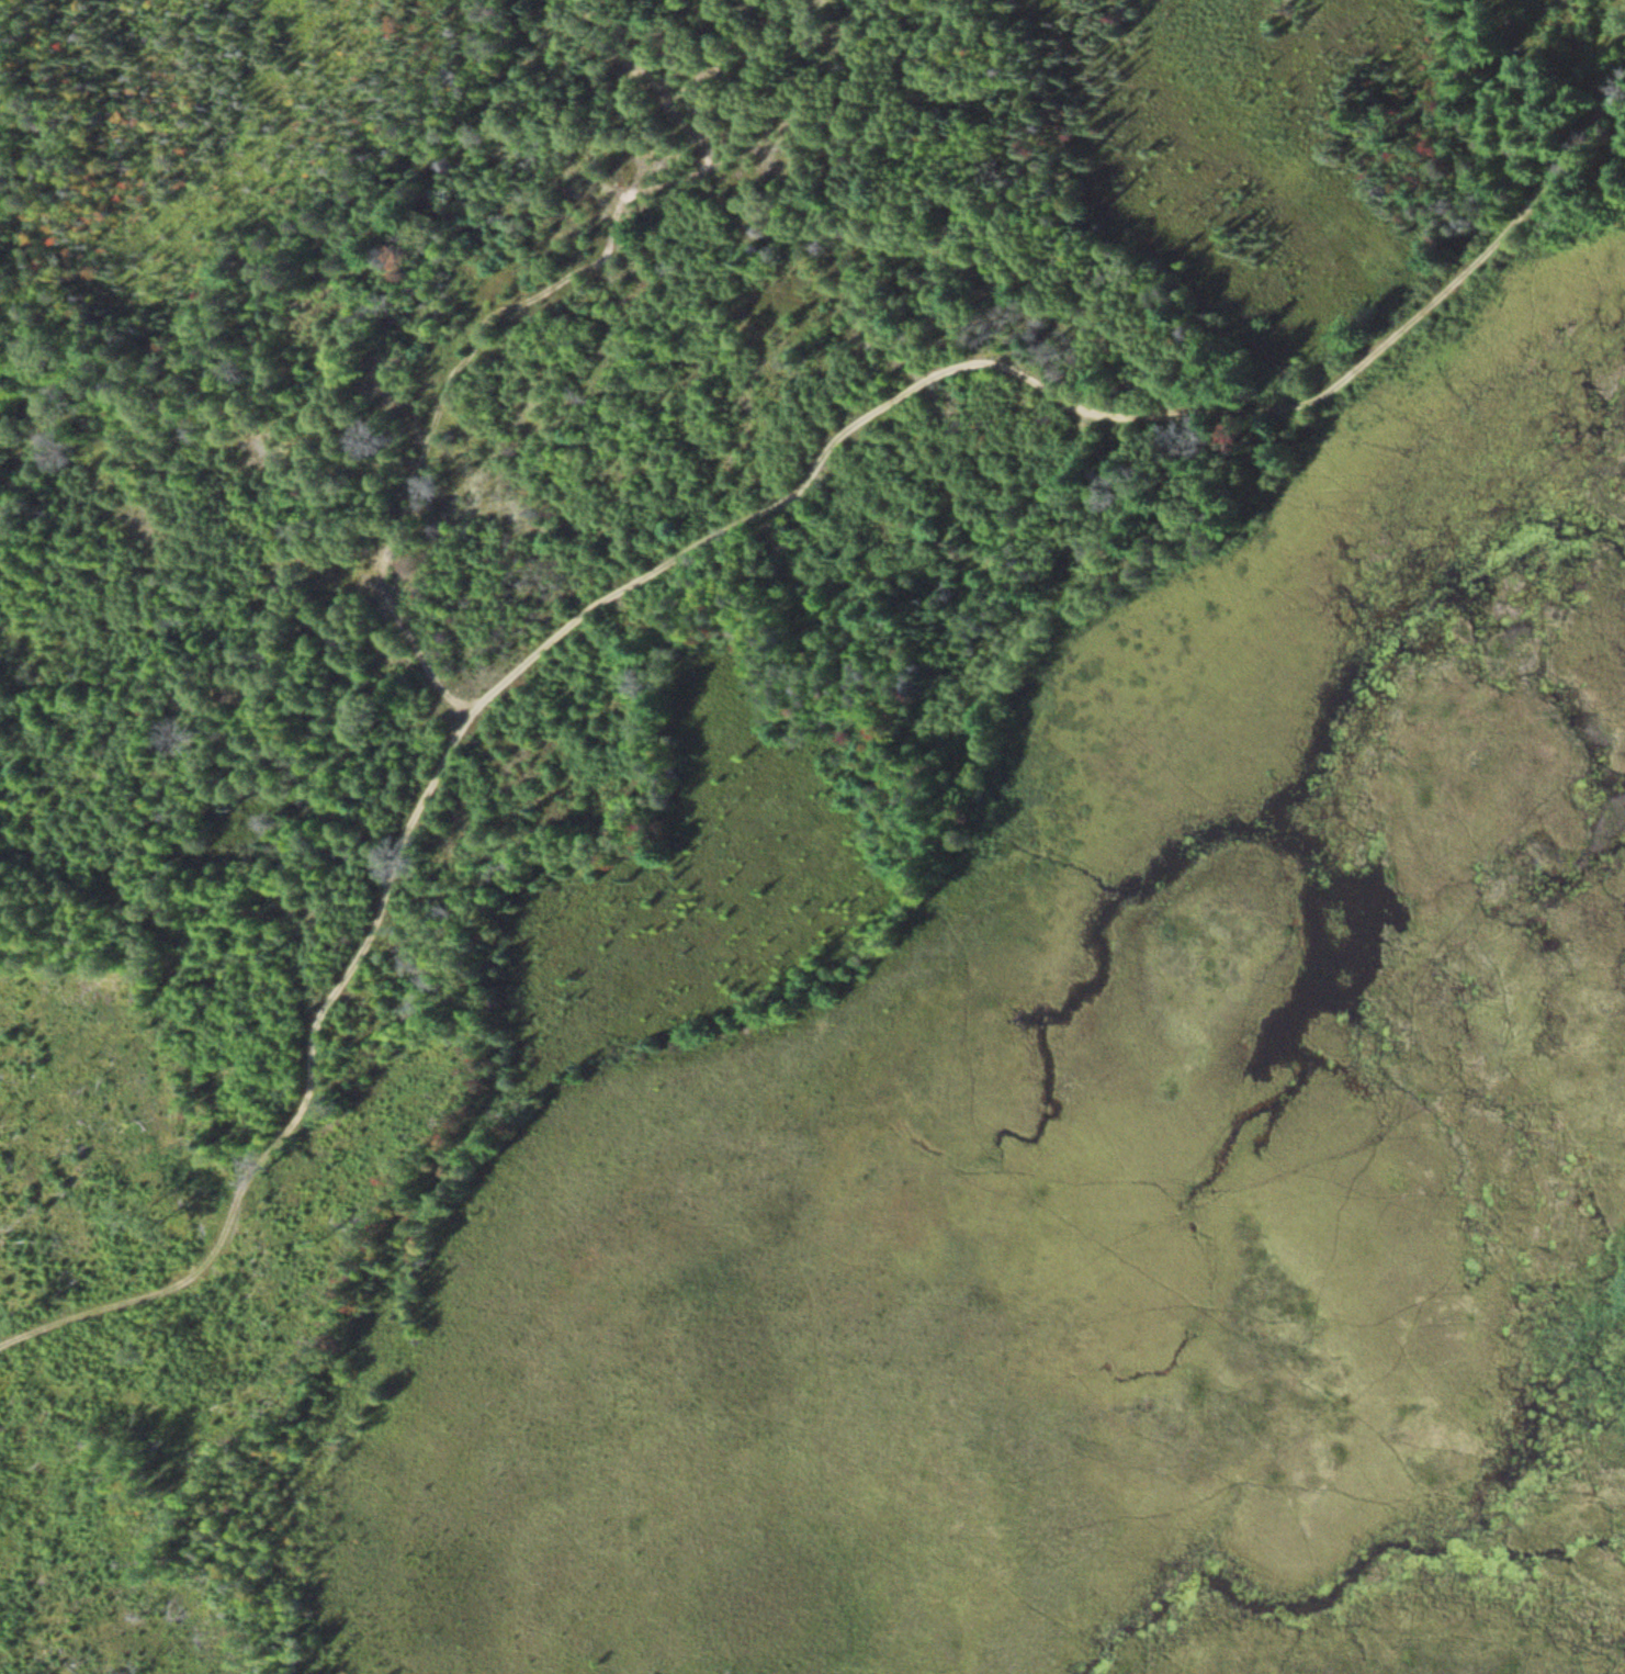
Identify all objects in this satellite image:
road: (692, 543)

